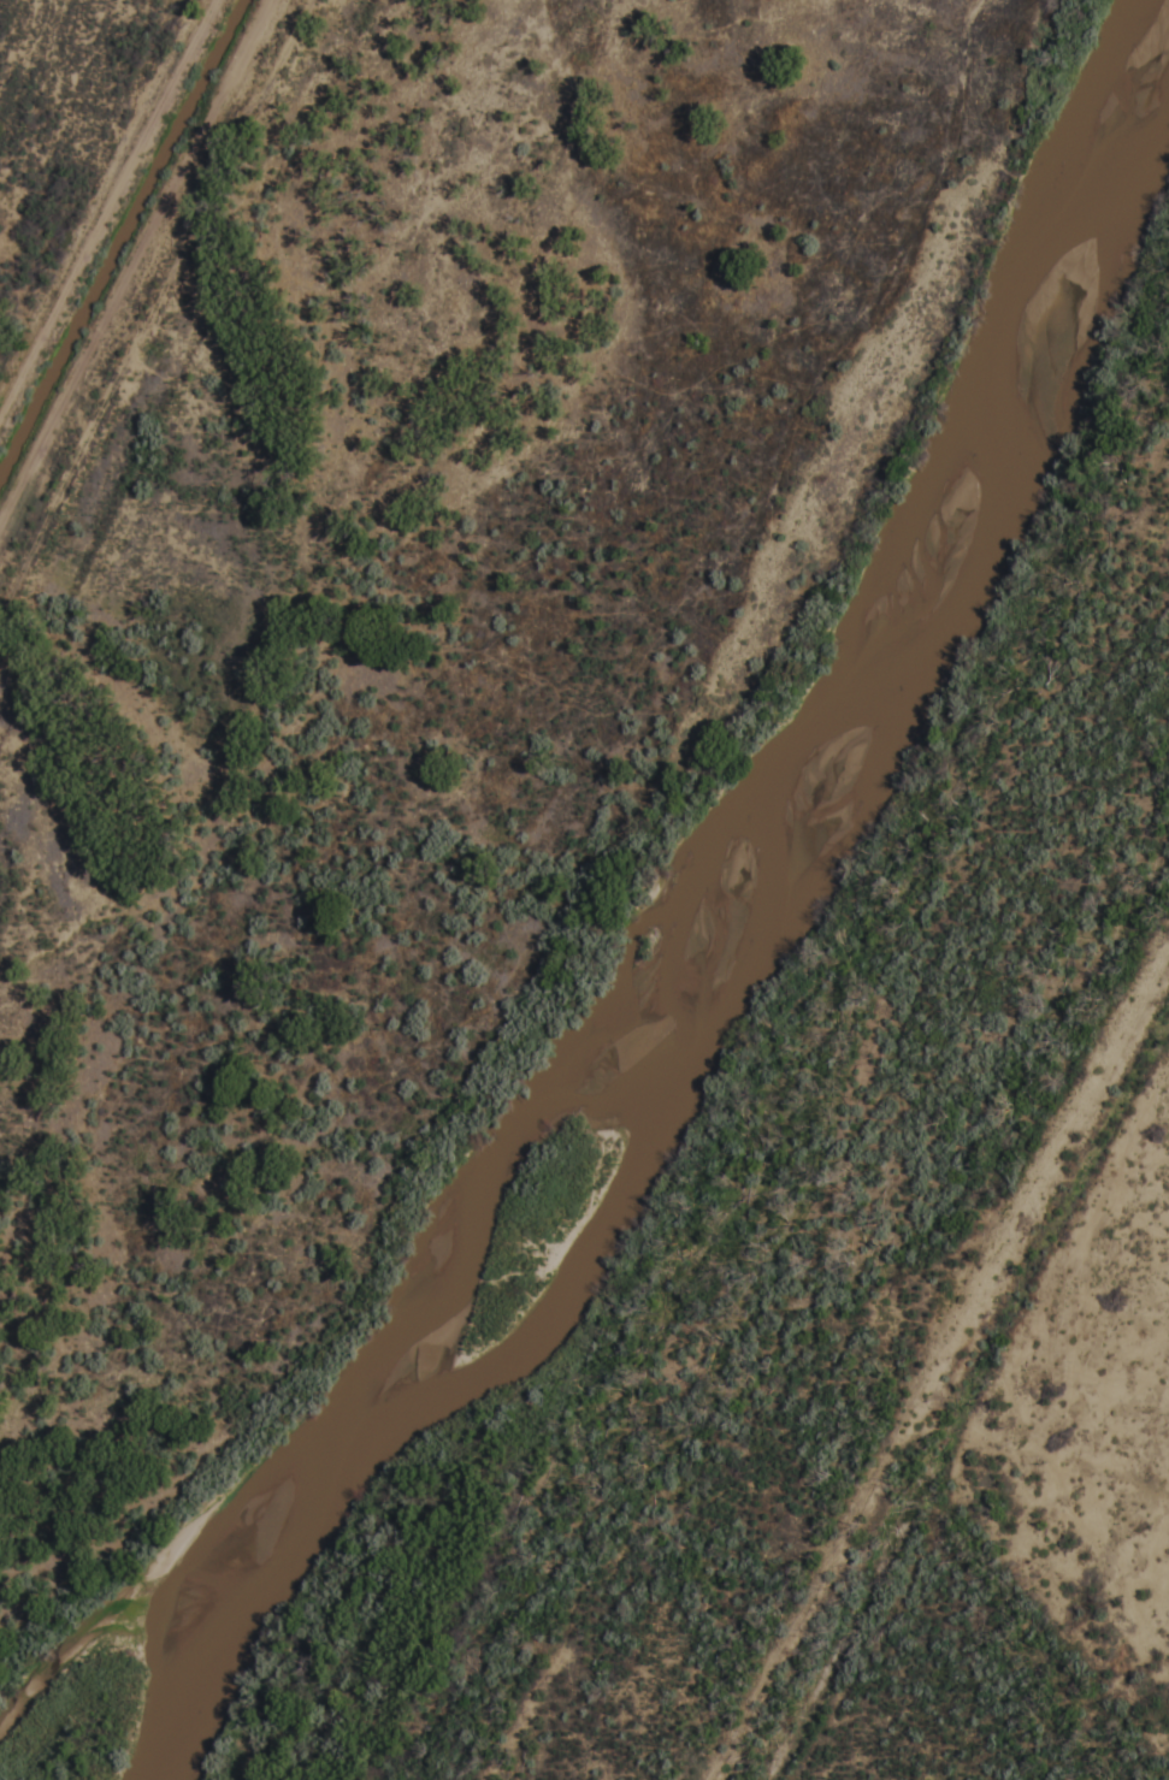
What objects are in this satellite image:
river: (705, 956)
river: (140, 1620)

